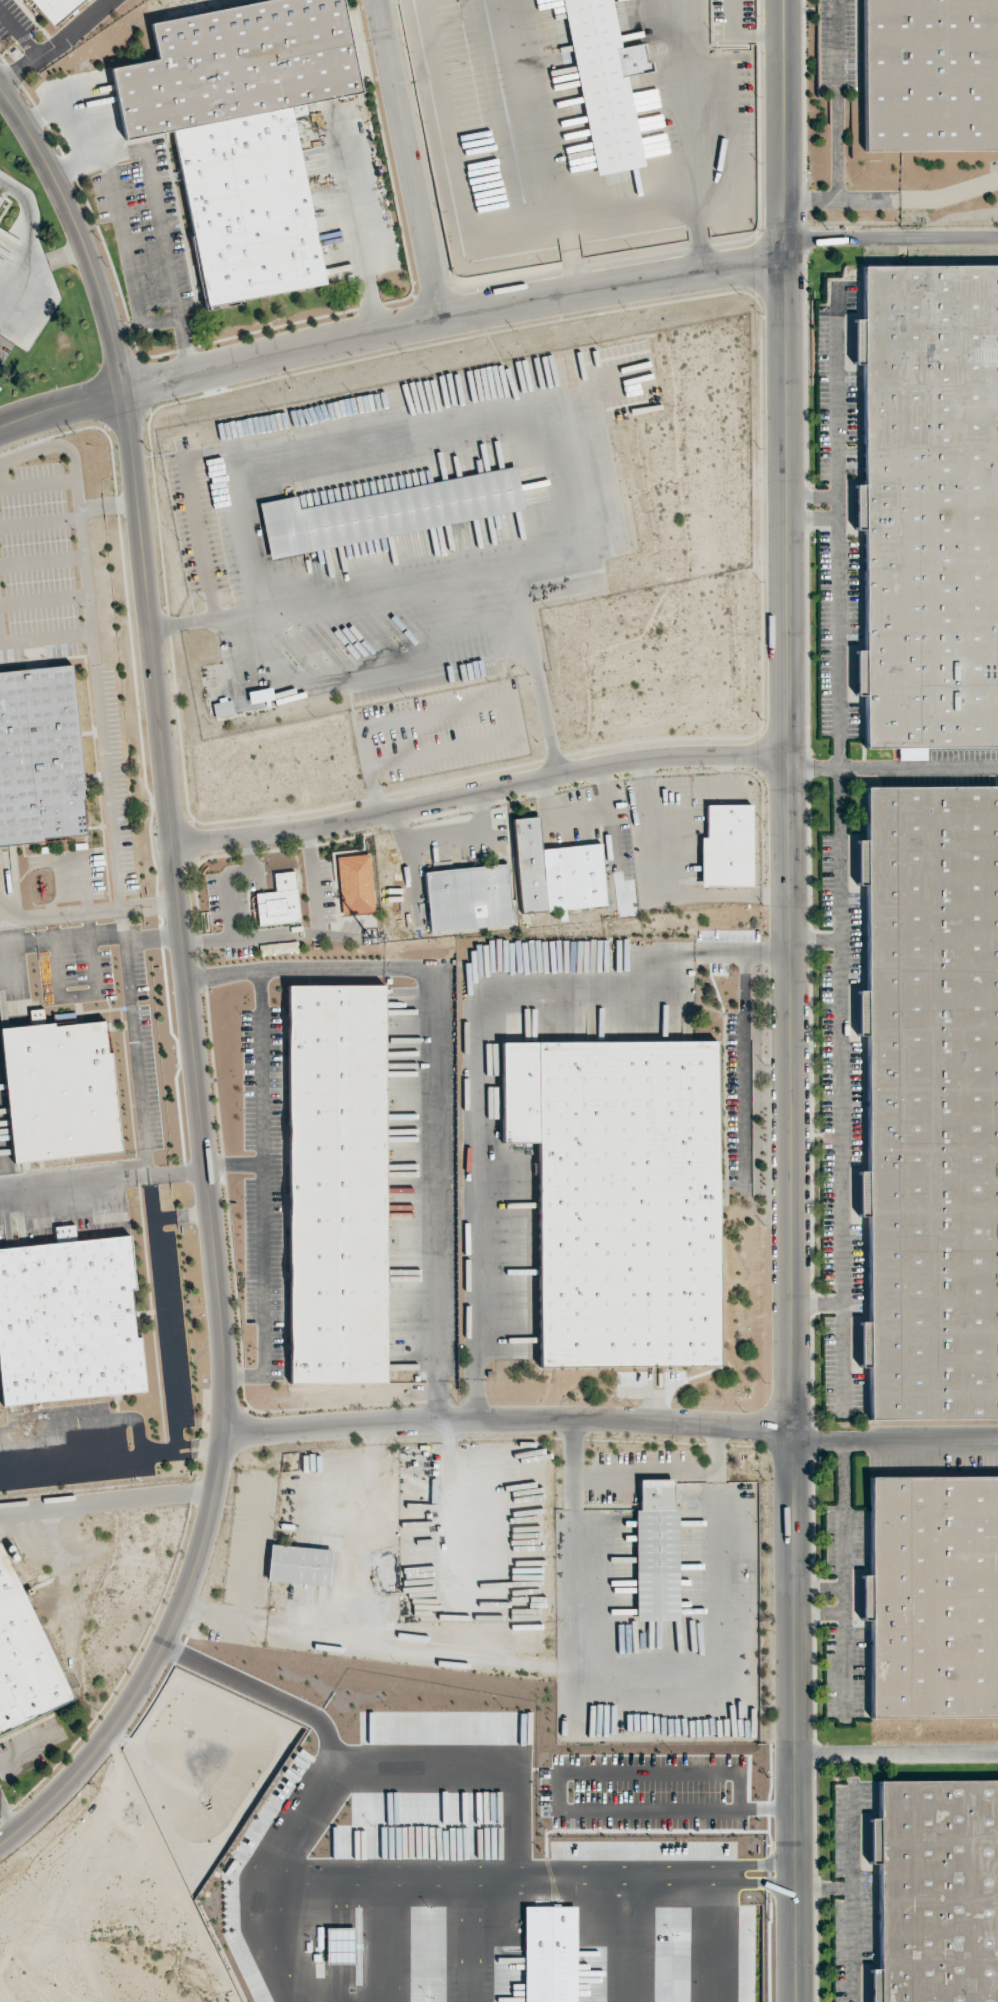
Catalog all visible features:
building: (55, 9)
road: (19, 35)
road: (56, 45)
building: (238, 64)
building: (929, 74)
building: (604, 85)
road: (838, 99)
road: (782, 131)
road: (95, 148)
road: (410, 158)
building: (1, 195)
road: (949, 196)
road: (841, 199)
building: (1, 201)
road: (626, 204)
building: (247, 205)
road: (116, 215)
road: (354, 221)
road: (29, 250)
road: (167, 262)
road: (387, 328)
road: (838, 415)
road: (65, 447)
road: (817, 495)
building: (929, 506)
road: (788, 508)
building: (387, 512)
road: (818, 519)
road: (433, 579)
road: (45, 639)
road: (839, 660)
building: (259, 695)
building: (222, 709)
road: (100, 740)
building: (912, 753)
building: (40, 756)
road: (479, 791)
building: (726, 847)
road: (248, 852)
building: (557, 872)
building: (355, 884)
road: (227, 887)
building: (468, 898)
building: (278, 901)
road: (166, 904)
road: (153, 905)
road: (122, 906)
road: (242, 936)
road: (815, 940)
building: (278, 948)
road: (187, 987)
road: (135, 1029)
building: (335, 1039)
road: (842, 1059)
road: (438, 1067)
building: (59, 1091)
building: (931, 1100)
road: (790, 1131)
road: (234, 1163)
building: (336, 1166)
road: (177, 1171)
road: (263, 1191)
building: (621, 1196)
building: (65, 1233)
building: (337, 1311)
road: (162, 1314)
building: (68, 1322)
road: (508, 1419)
road: (198, 1444)
road: (198, 1454)
road: (107, 1499)
building: (656, 1552)
building: (299, 1565)
building: (933, 1597)
building: (24, 1658)
road: (896, 1753)
road: (823, 1888)
building: (937, 1890)
road: (851, 1897)

